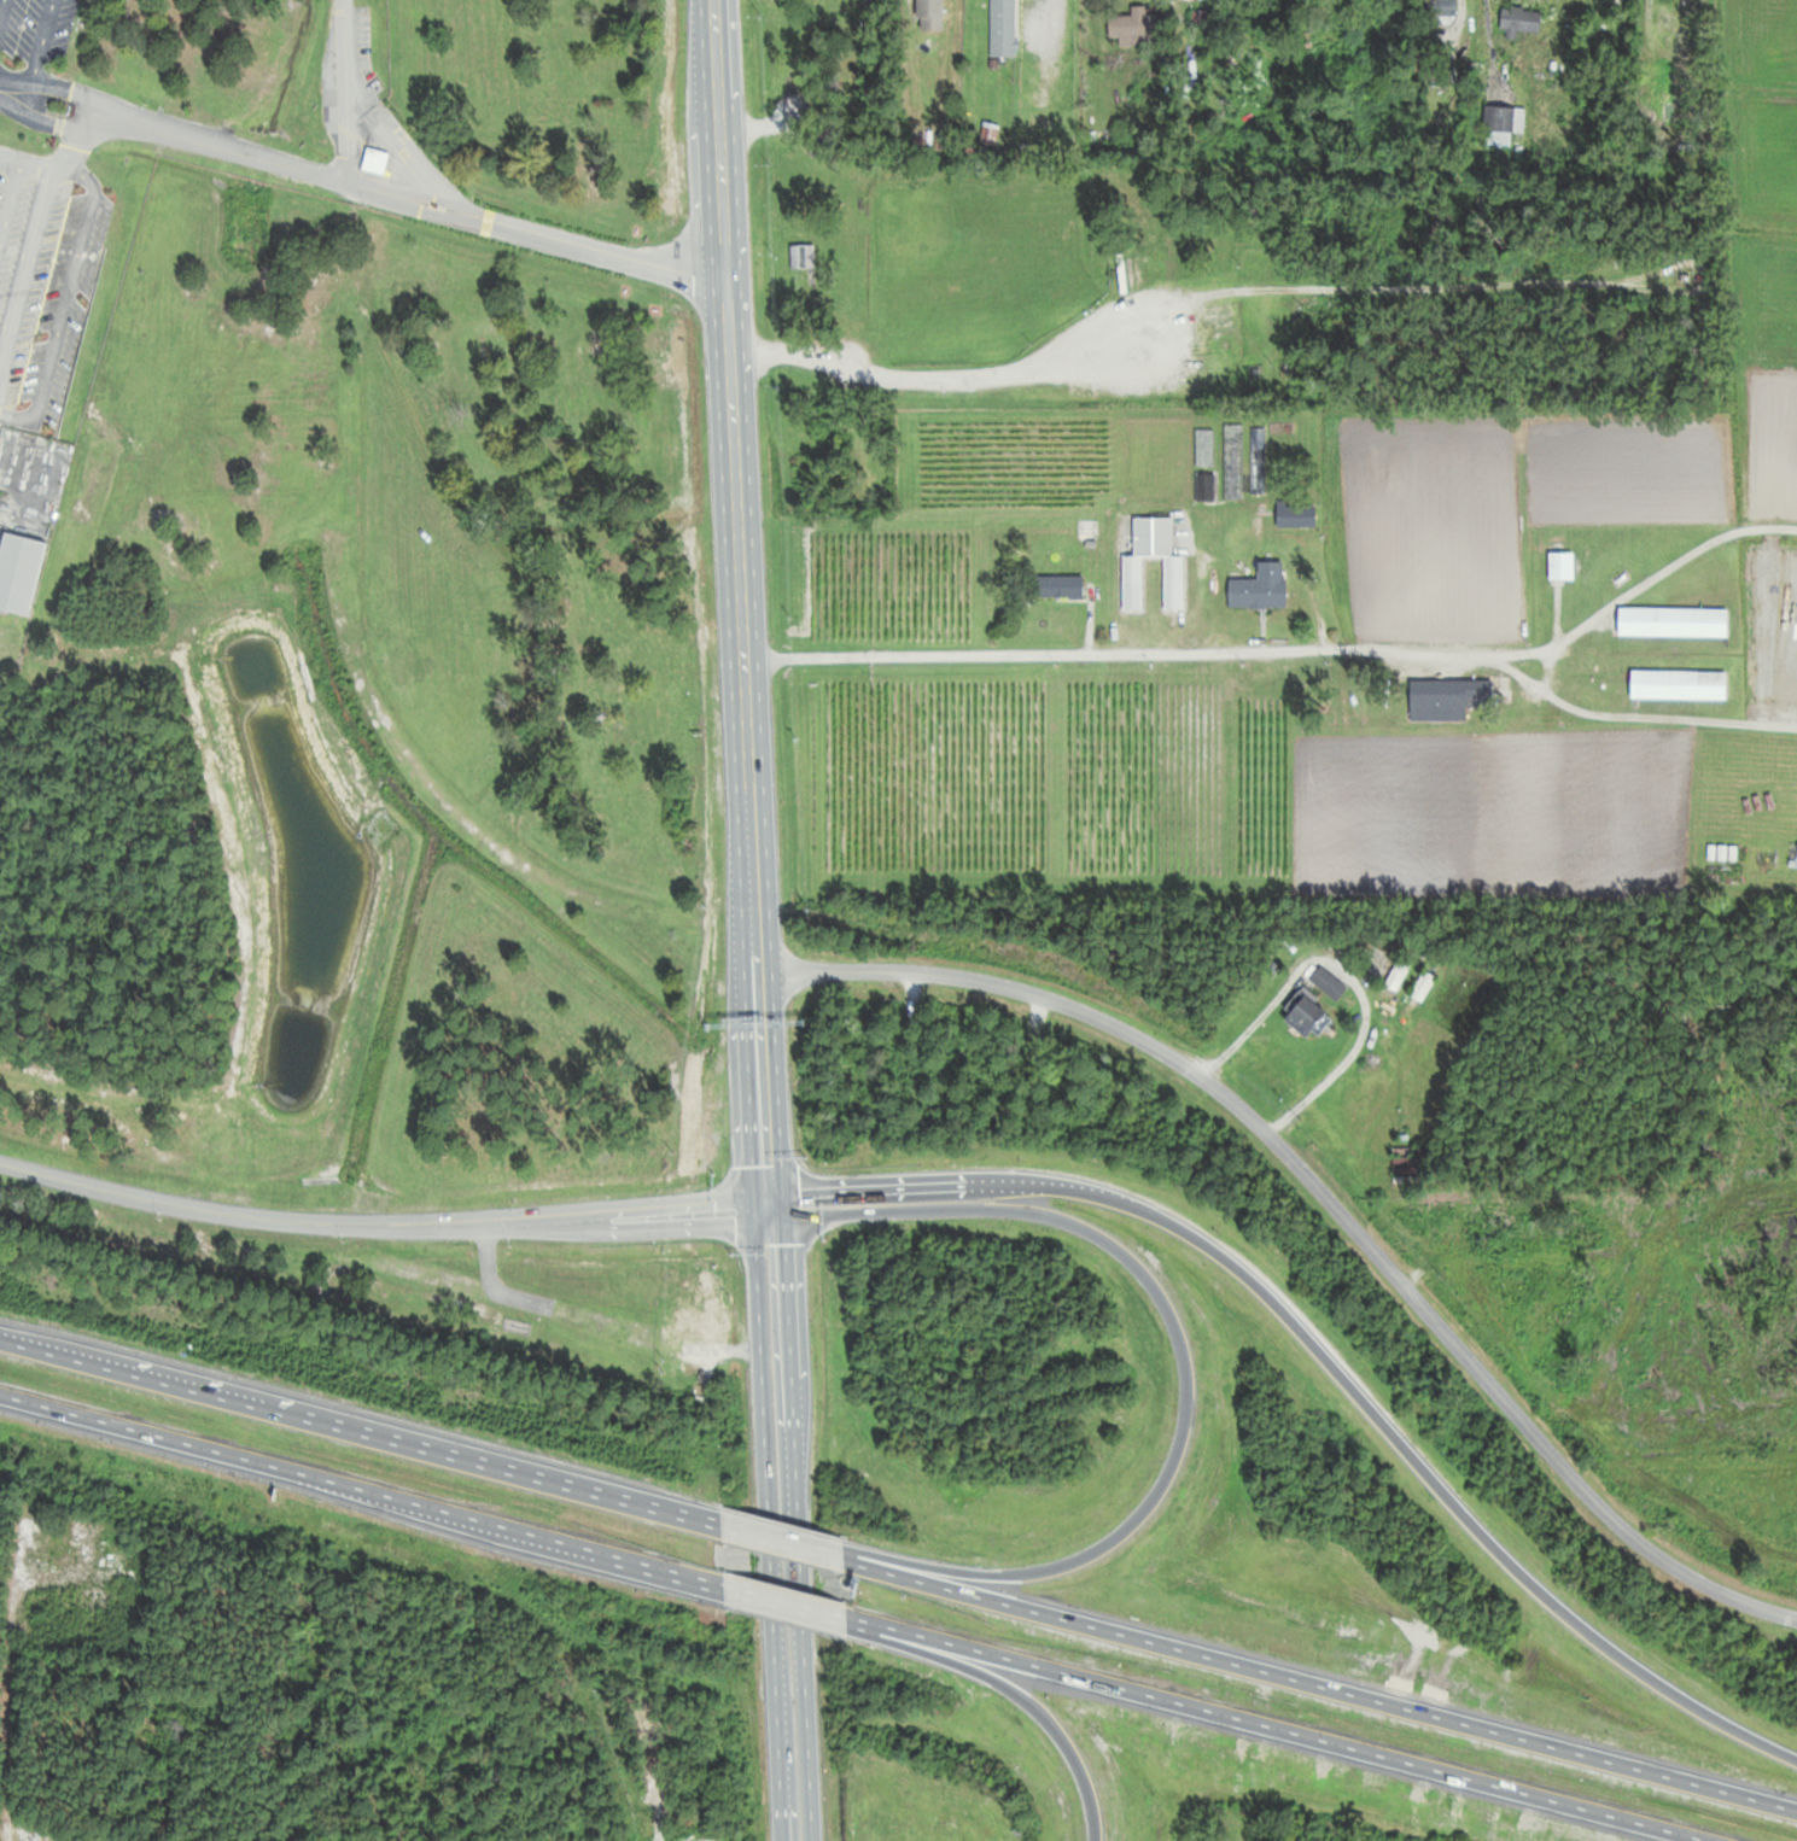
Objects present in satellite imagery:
building: (934, 0)
building: (1440, 11)
building: (1347, 12)
building: (1676, 16)
building: (1249, 18)
building: (1521, 19)
building: (1136, 27)
building: (1003, 28)
building: (988, 133)
building: (1496, 139)
building: (374, 160)
road: (439, 211)
building: (803, 256)
building: (1296, 515)
building: (1056, 543)
building: (1560, 566)
building: (18, 571)
building: (1173, 583)
road: (1640, 583)
building: (1060, 586)
building: (1260, 588)
road: (739, 602)
building: (1673, 623)
road: (1115, 650)
road: (1544, 667)
building: (1679, 685)
building: (1447, 699)
road: (1634, 713)
building: (1589, 771)
building: (1792, 857)
building: (1396, 976)
building: (1328, 984)
building: (1422, 986)
building: (1307, 1013)
road: (1319, 1192)
traffic signals: (774, 1205)
road: (383, 1225)
road: (1183, 1358)
road: (1329, 1362)
road: (362, 1432)
road: (362, 1489)
road: (788, 1523)
road: (766, 1541)
road: (825, 1544)
road: (825, 1556)
road: (784, 1600)
road: (1319, 1684)
road: (1009, 1689)
road: (1276, 1728)

